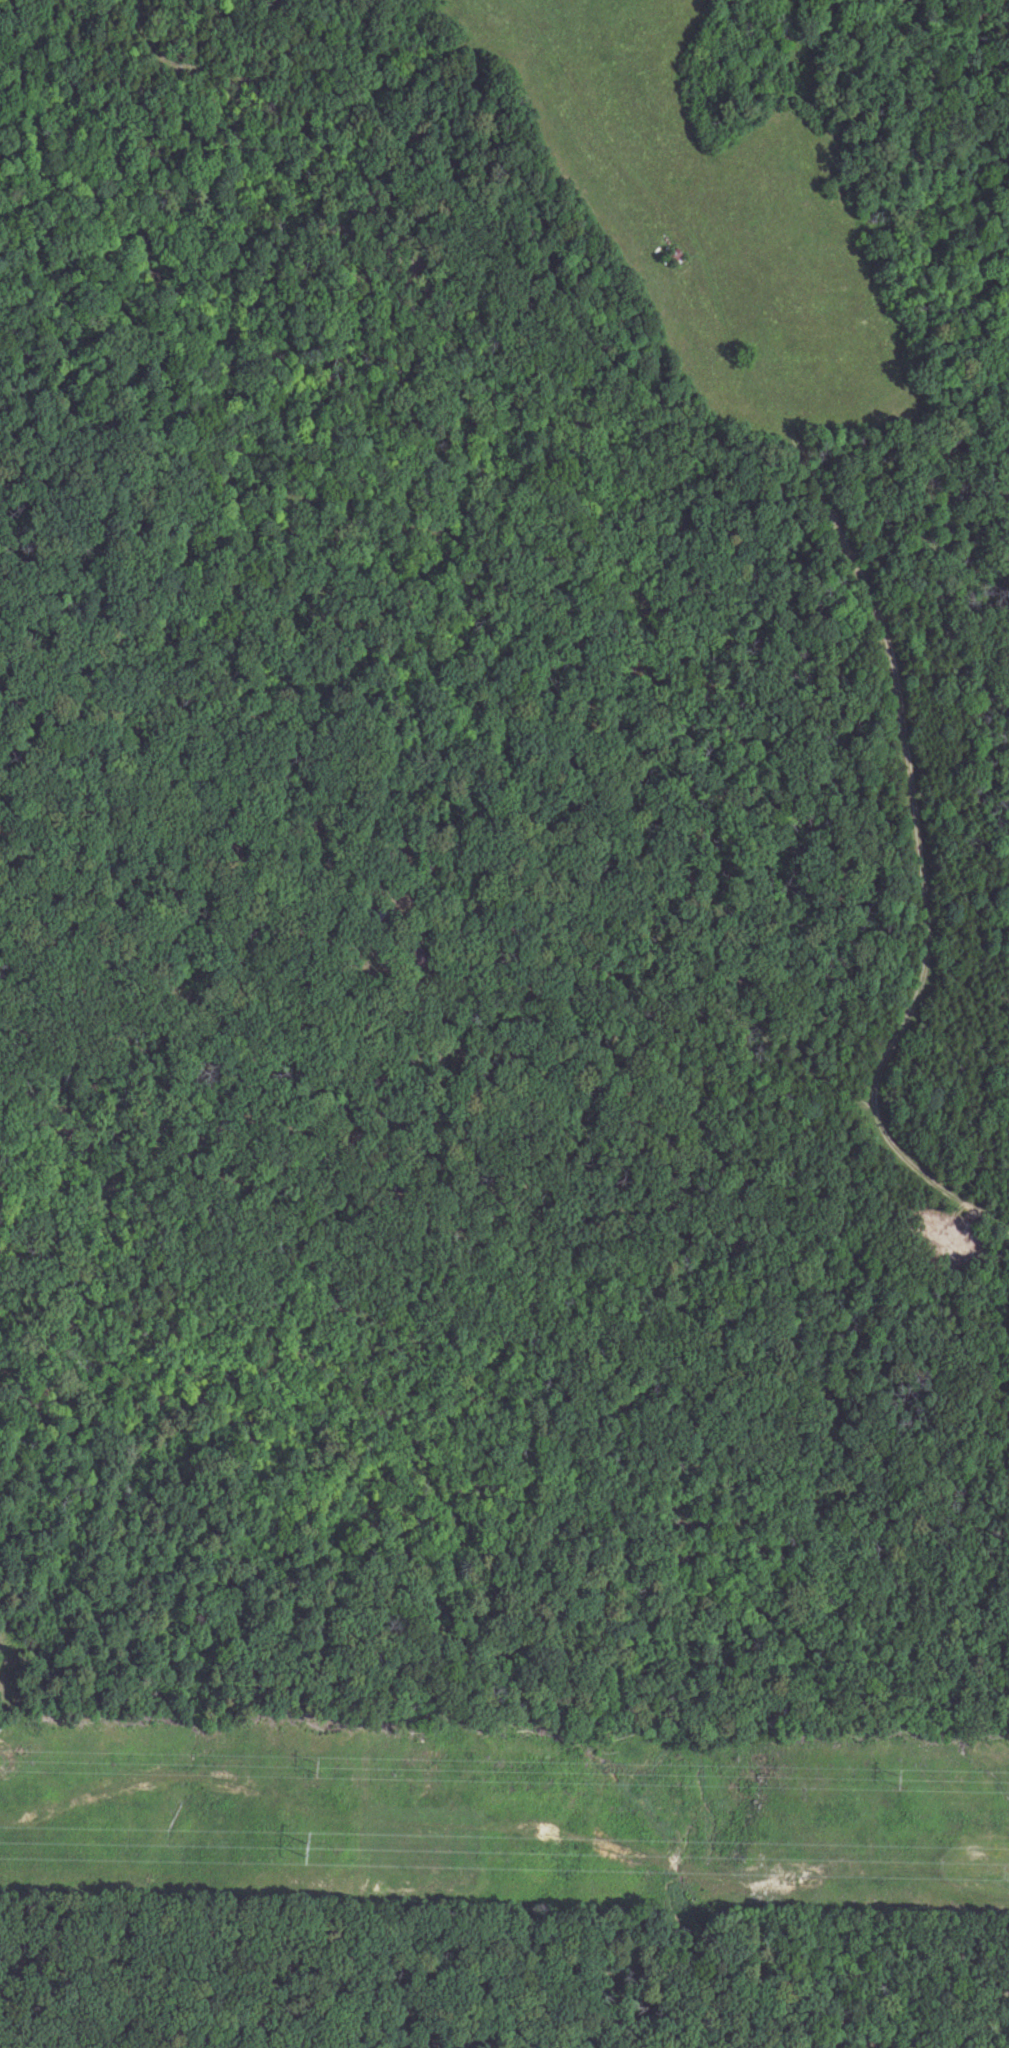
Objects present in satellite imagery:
power tower: (334, 1765)
power tower: (872, 1784)
power tower: (304, 1849)

